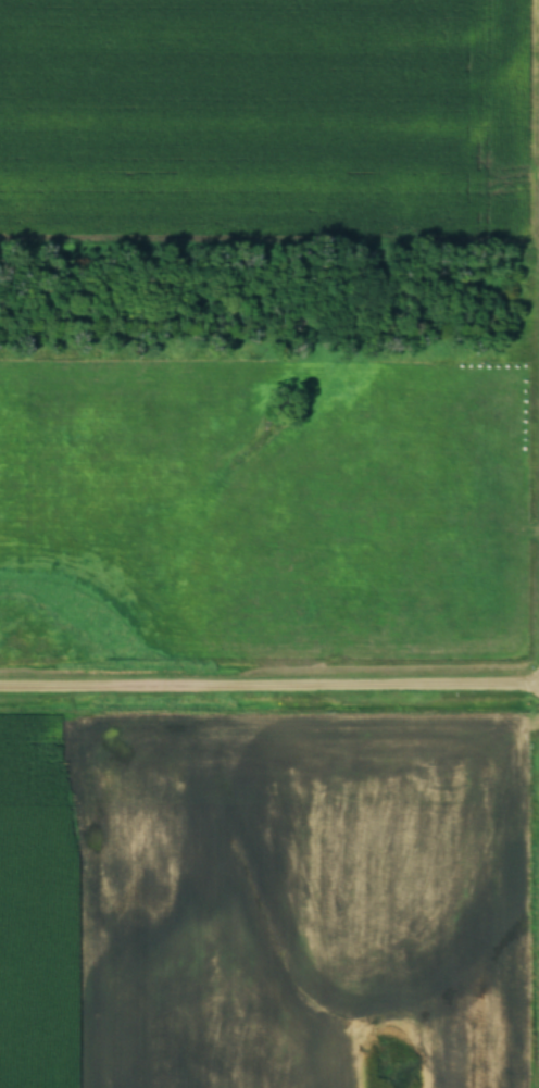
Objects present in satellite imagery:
road: (269, 686)

